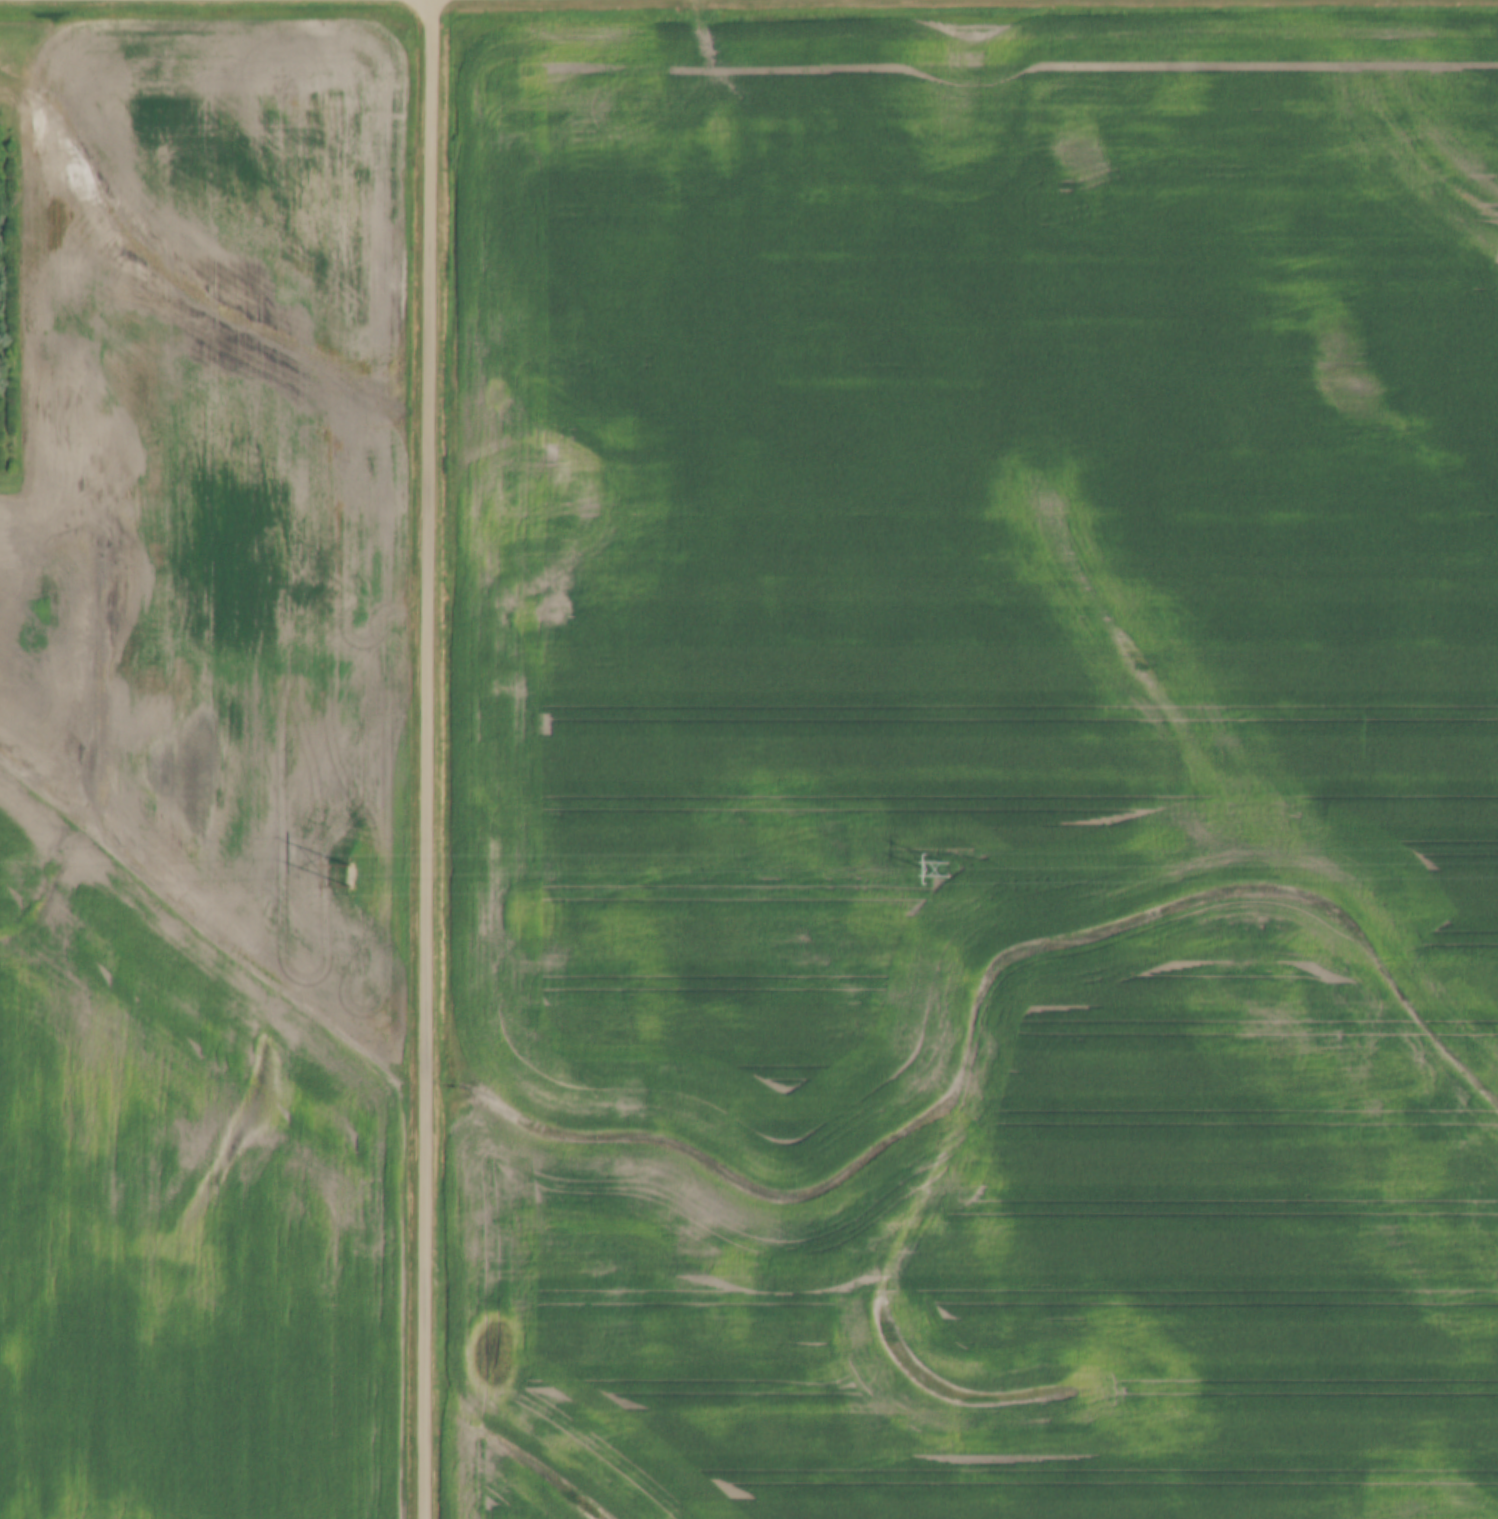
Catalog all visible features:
road: (427, 759)
power tower: (943, 871)
power tower: (353, 875)

